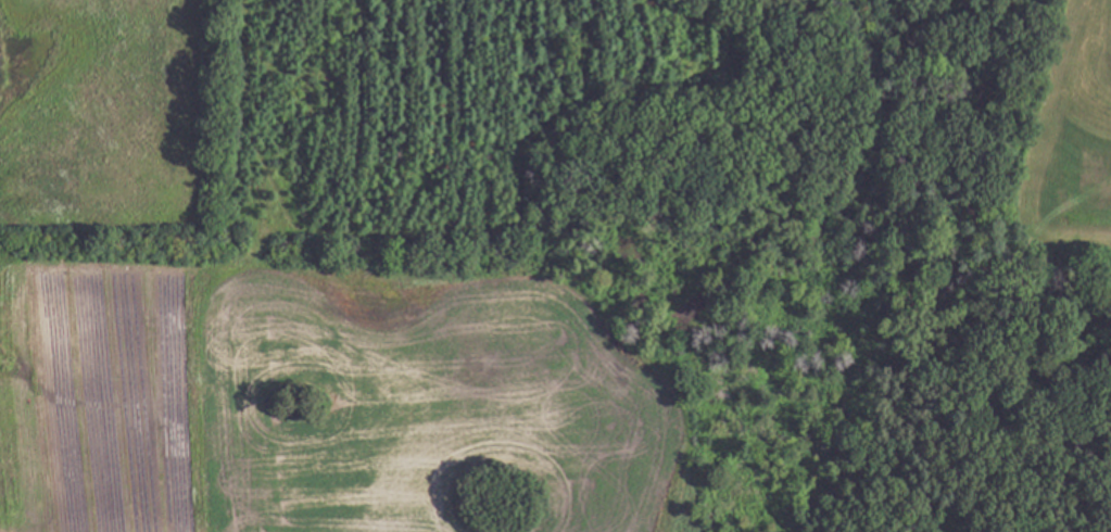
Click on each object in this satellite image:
crop: (280, 339)

